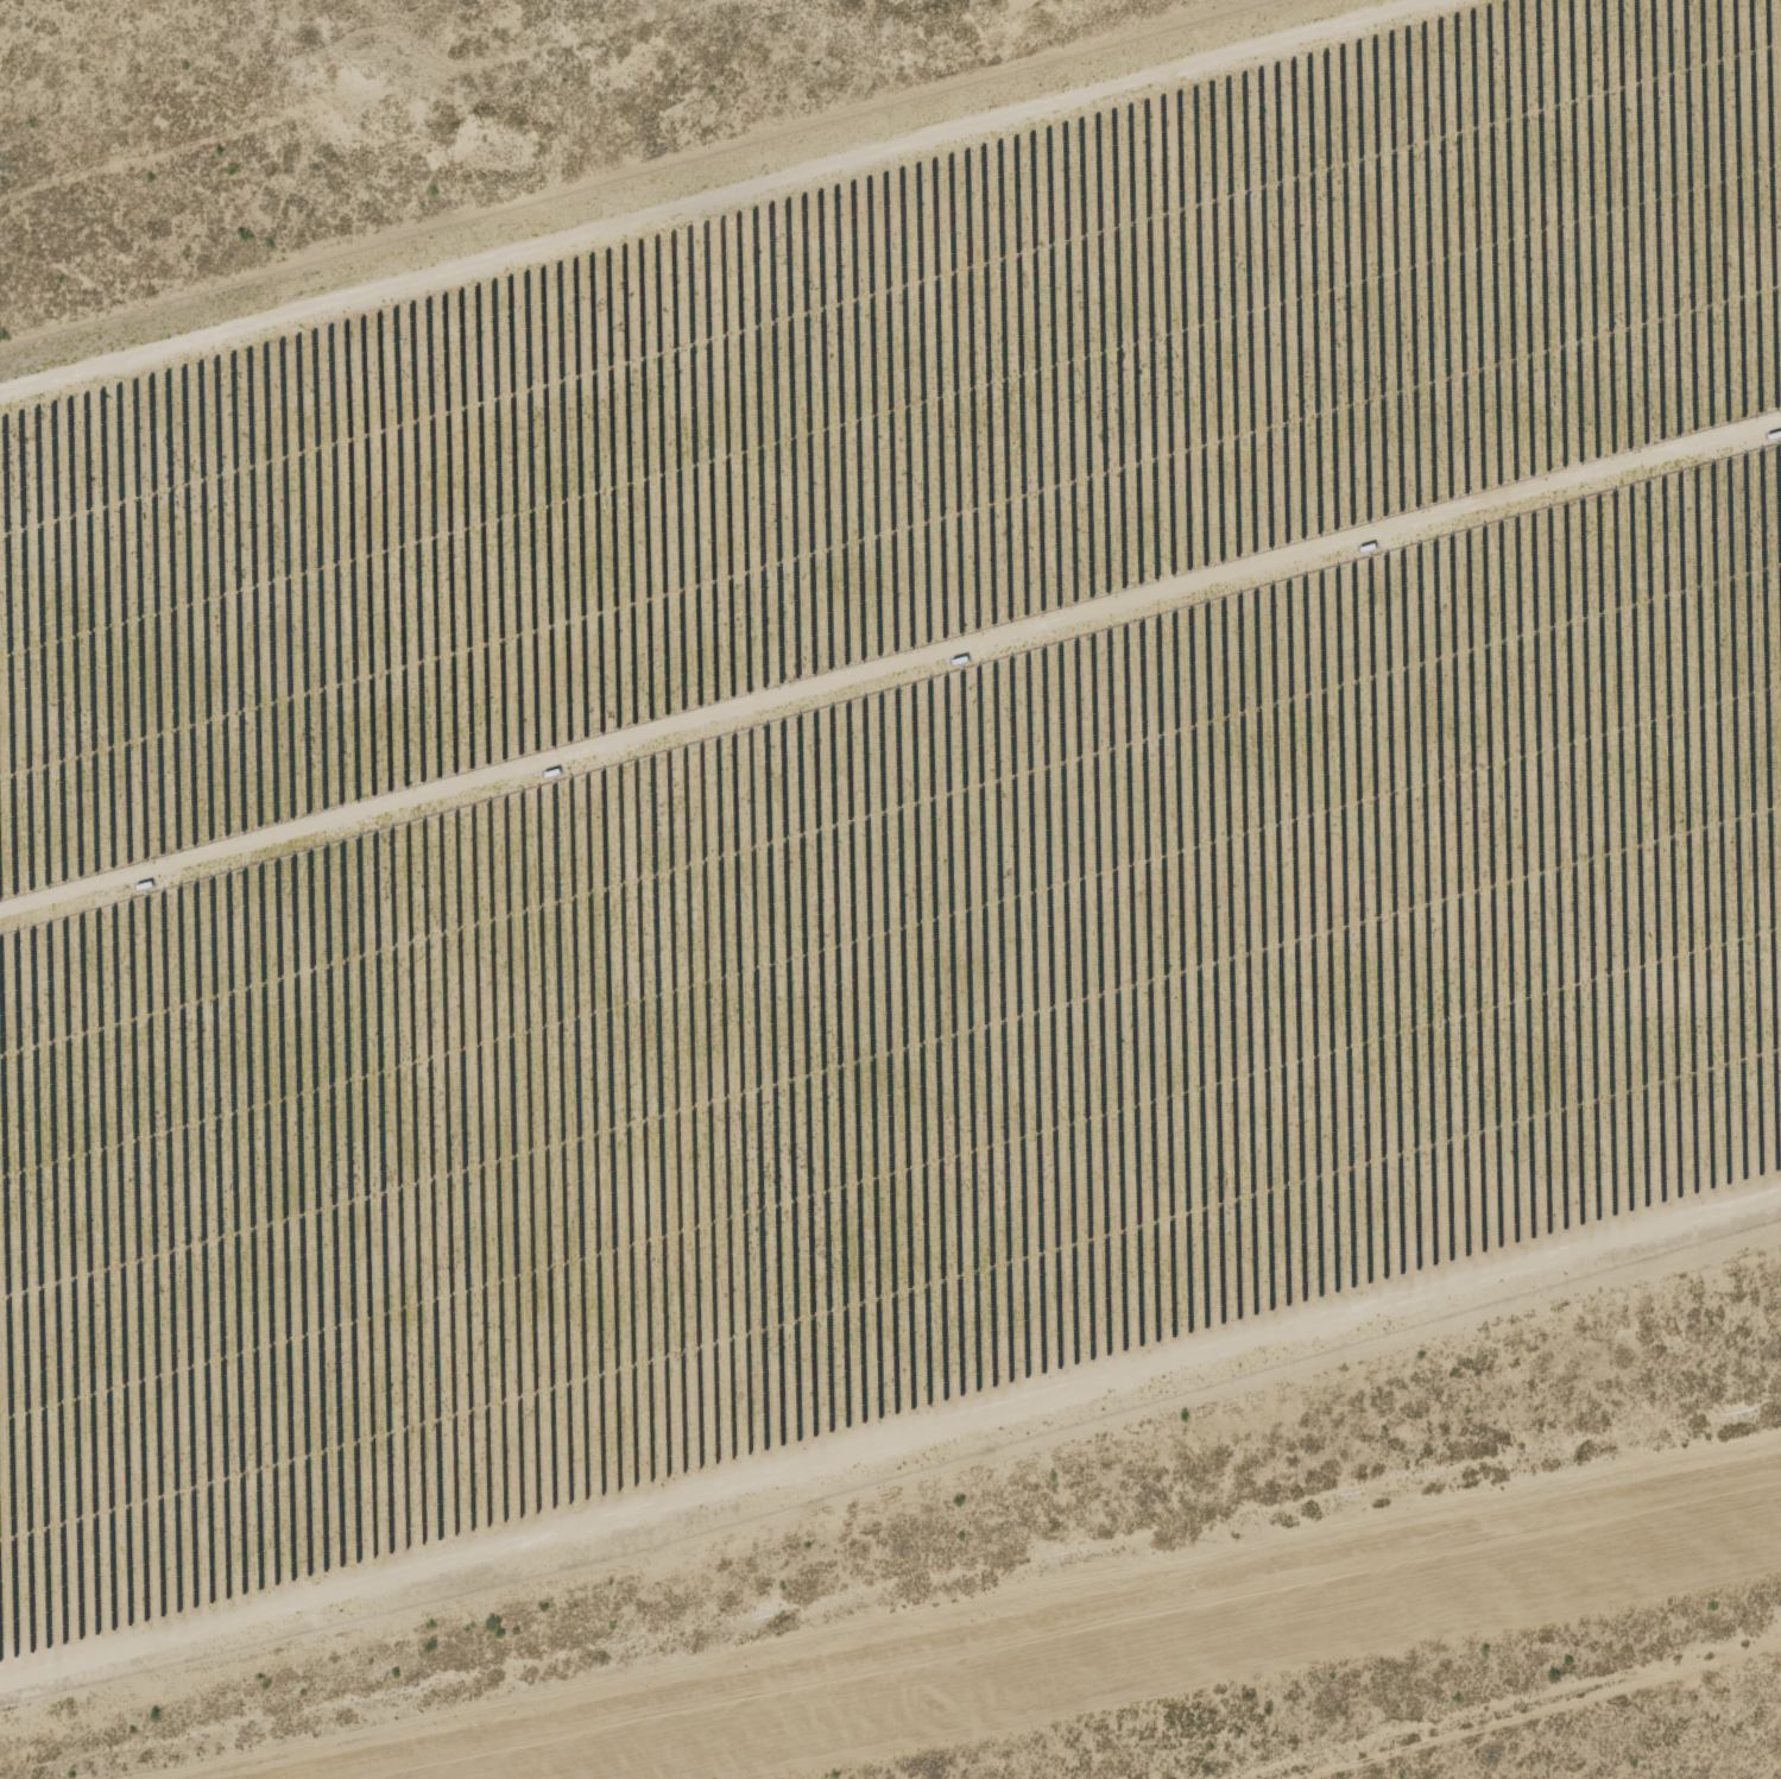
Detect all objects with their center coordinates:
solar farm: (878, 789)

